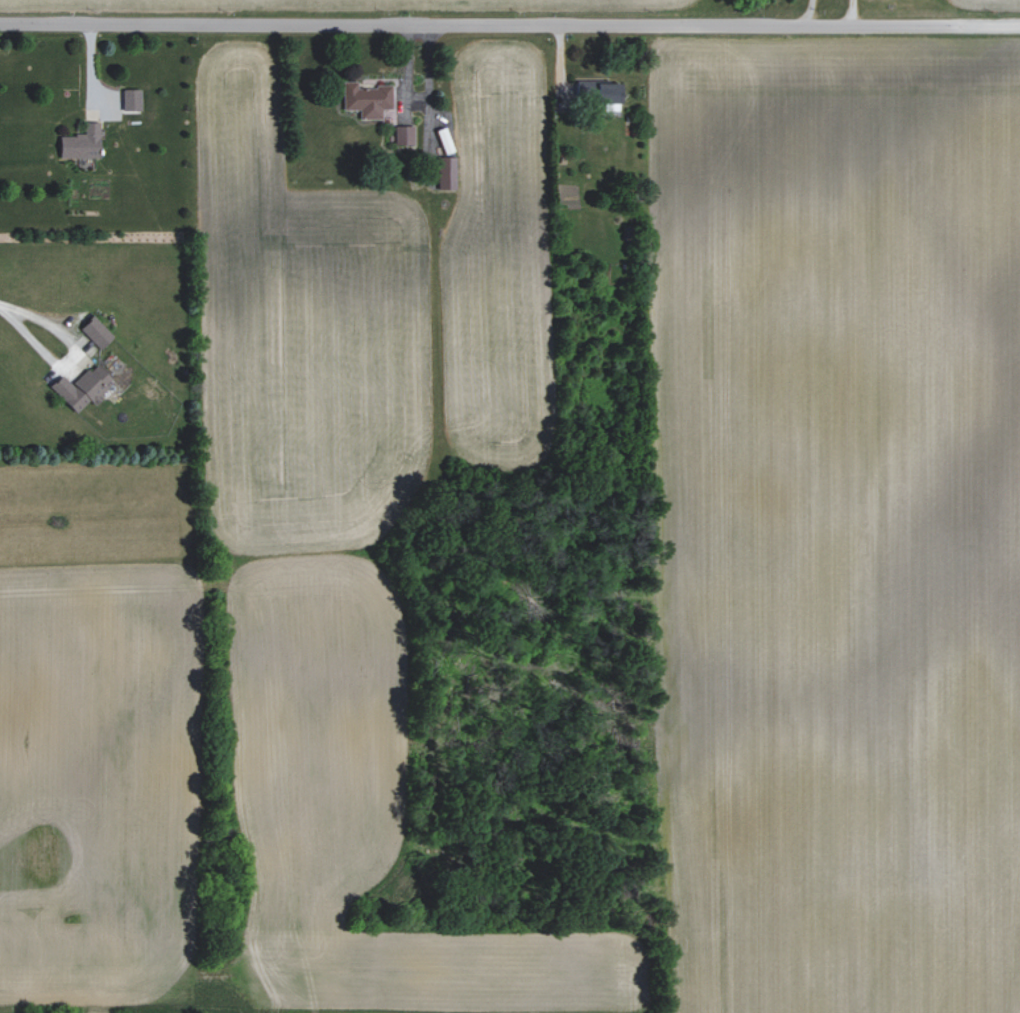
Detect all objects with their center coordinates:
road: (443, 26)
road: (953, 28)
building: (601, 91)
building: (367, 99)
building: (132, 100)
building: (405, 134)
building: (82, 142)
building: (445, 171)
road: (28, 332)
building: (96, 332)
building: (83, 387)

